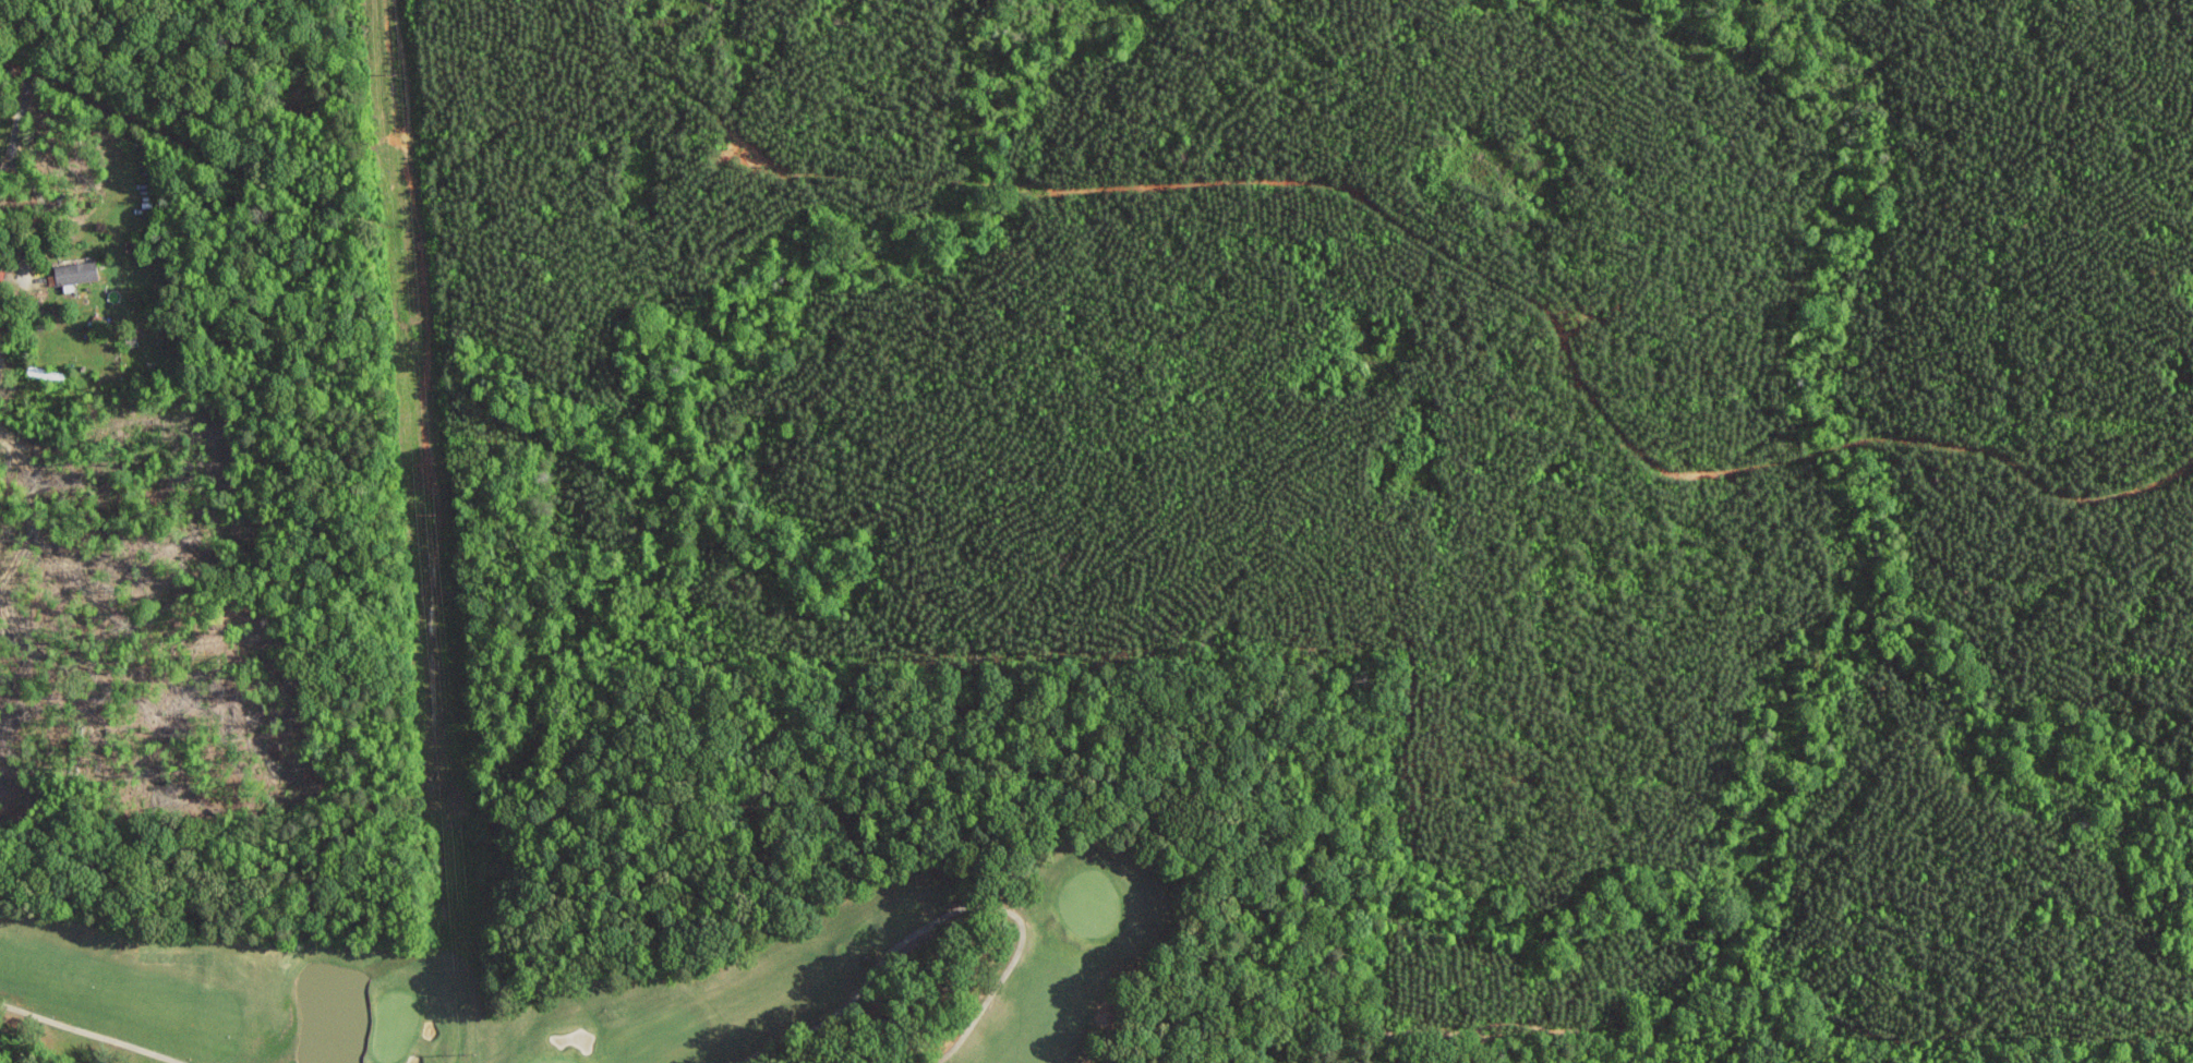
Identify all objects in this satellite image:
road: (98, 101)
building: (77, 273)
road: (947, 916)
park: (642, 973)
road: (91, 1034)

